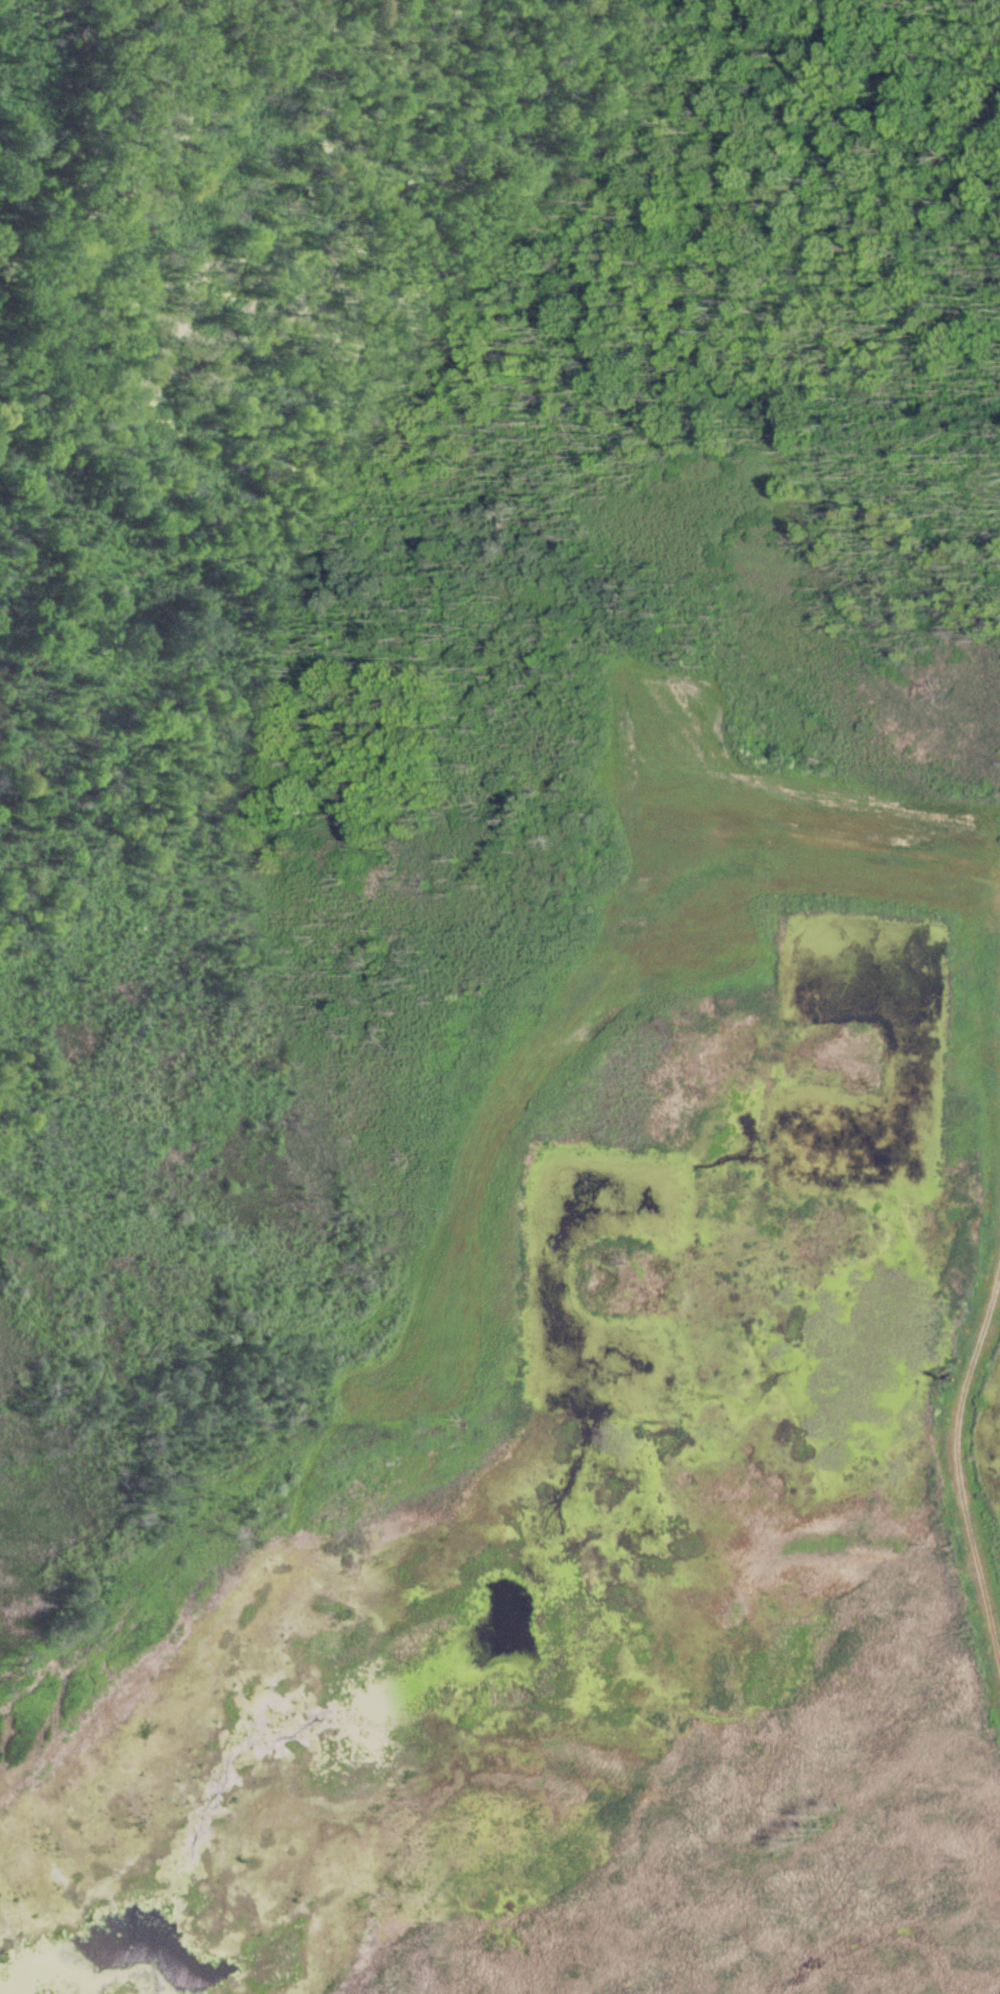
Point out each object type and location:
road: (959, 1425)

